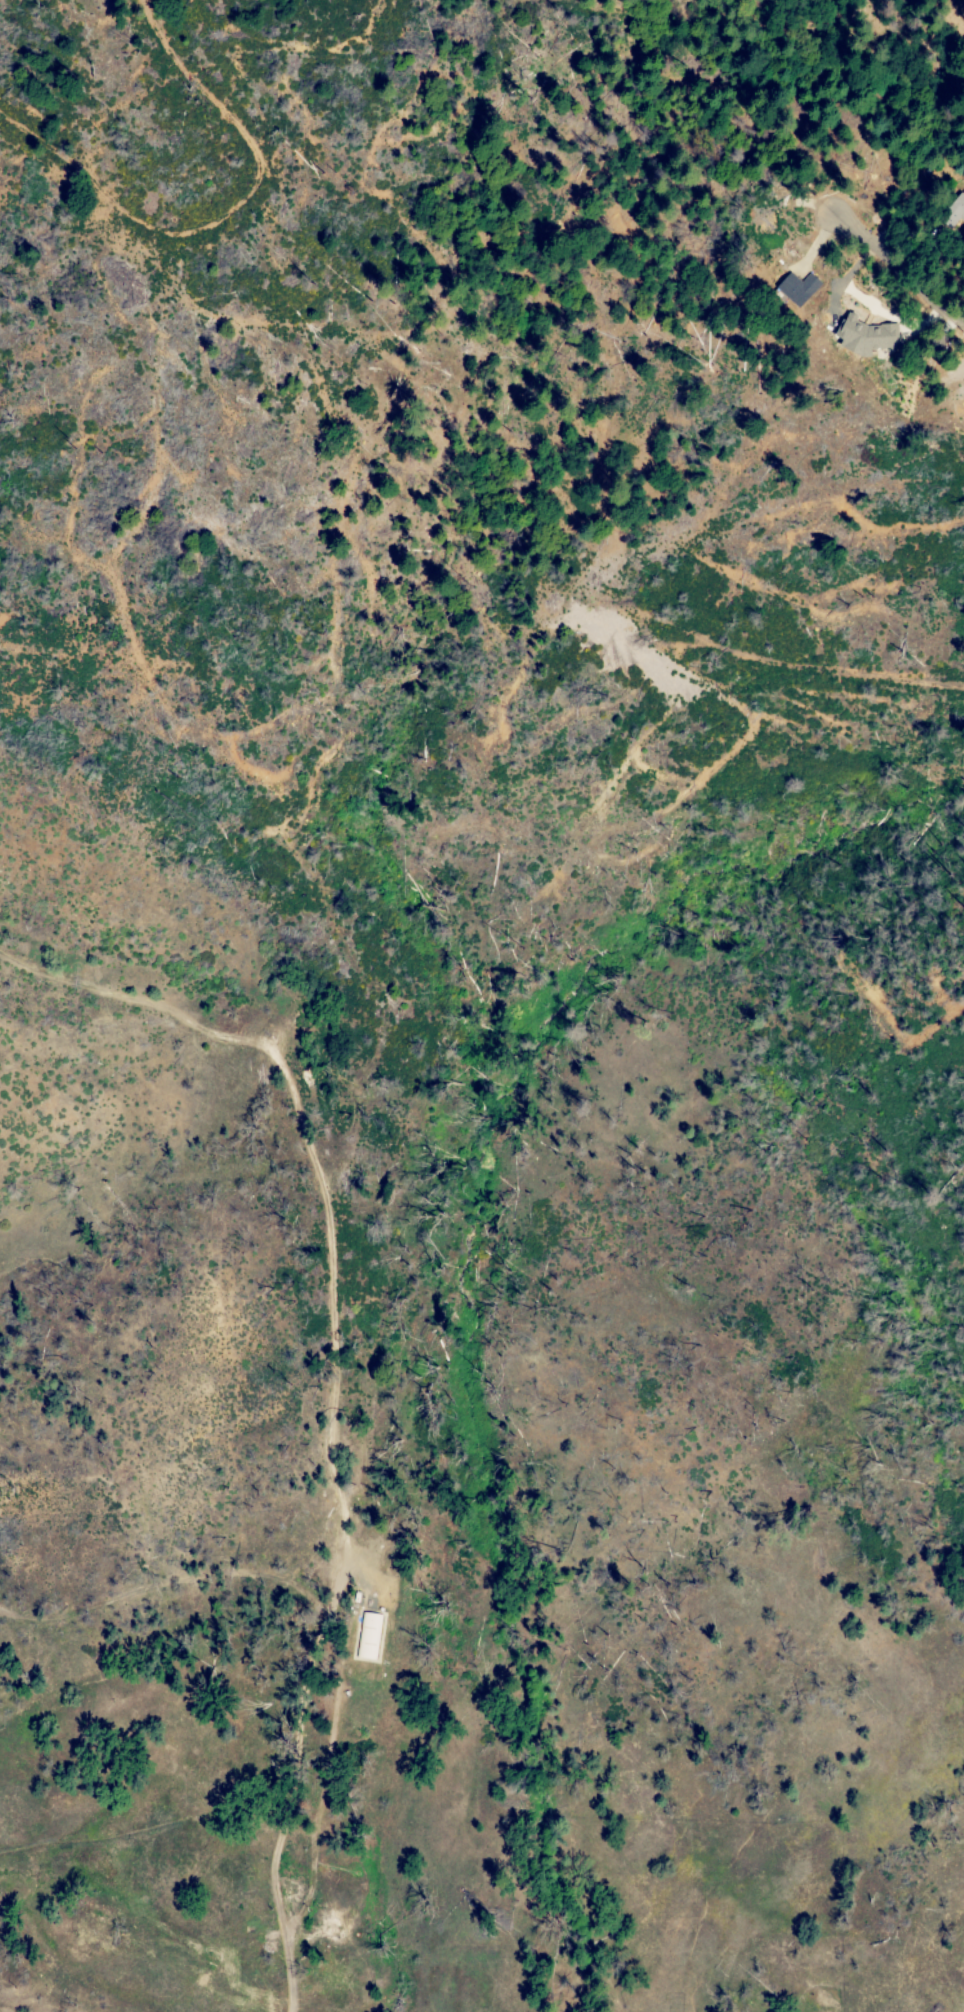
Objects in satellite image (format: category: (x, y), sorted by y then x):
road: (217, 205)
building: (954, 208)
road: (903, 272)
building: (796, 287)
building: (862, 334)
road: (330, 1402)

